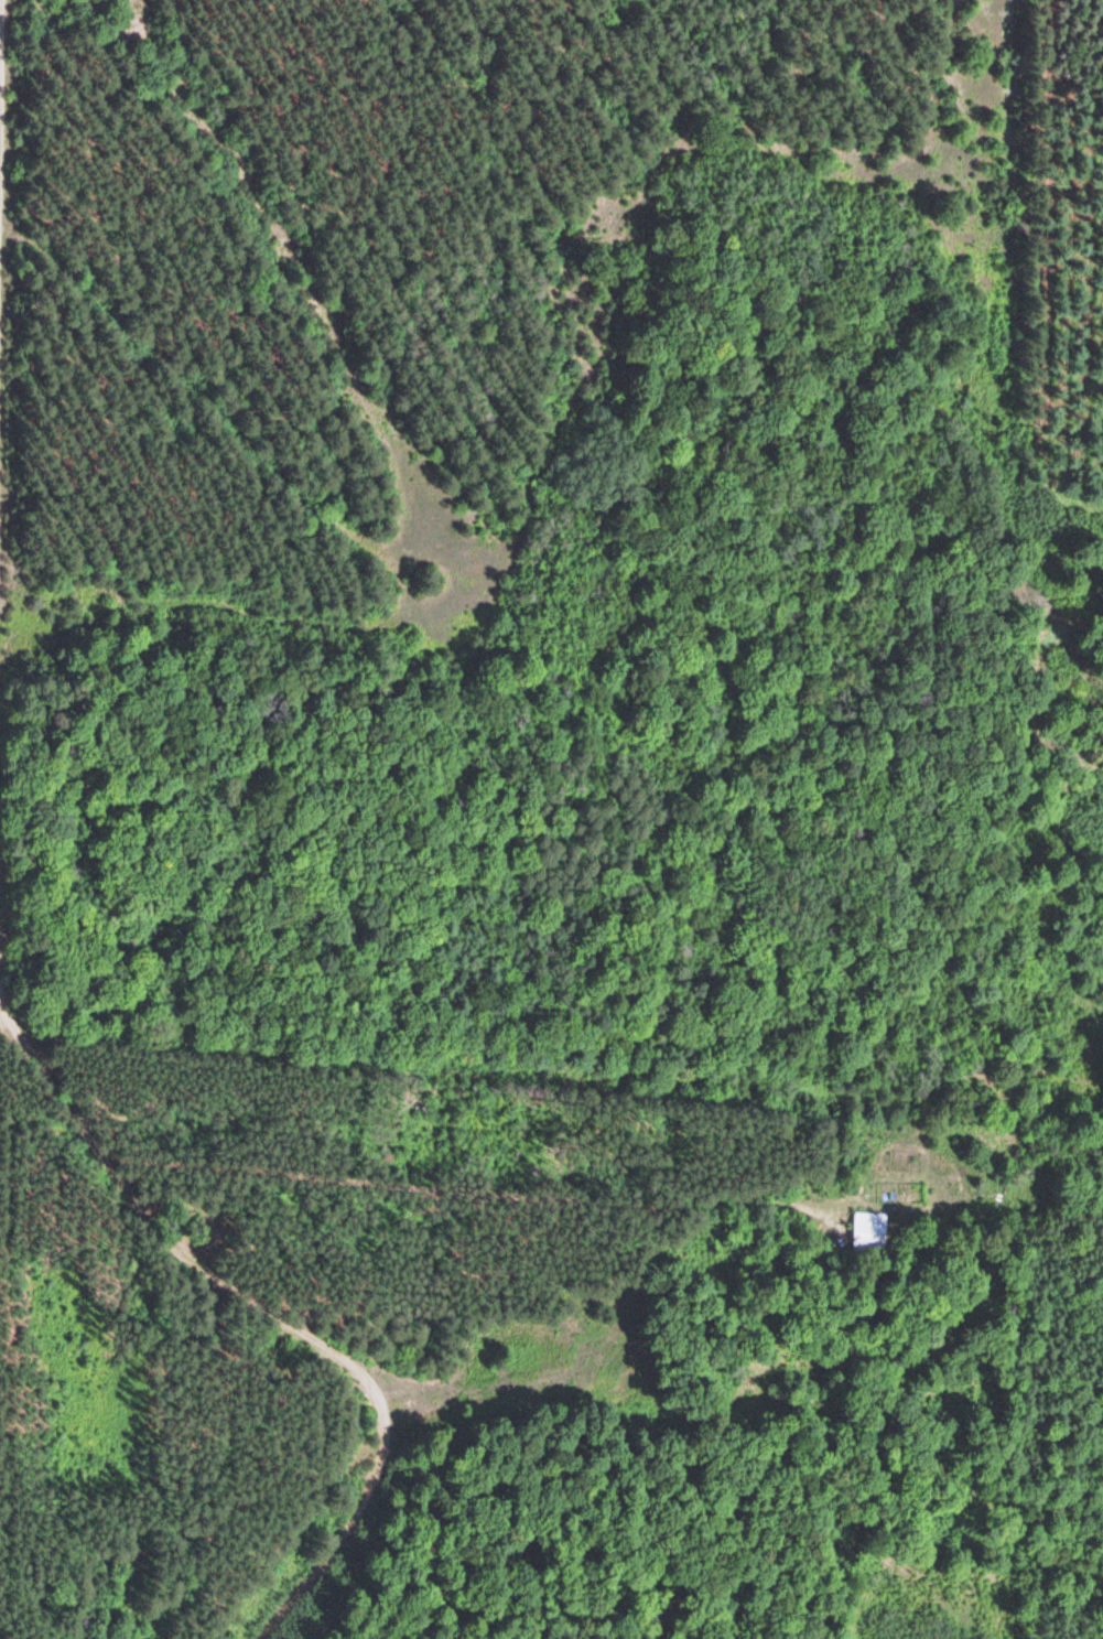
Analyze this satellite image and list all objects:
road: (3, 155)
road: (664, 817)
building: (869, 1233)
road: (246, 1300)

